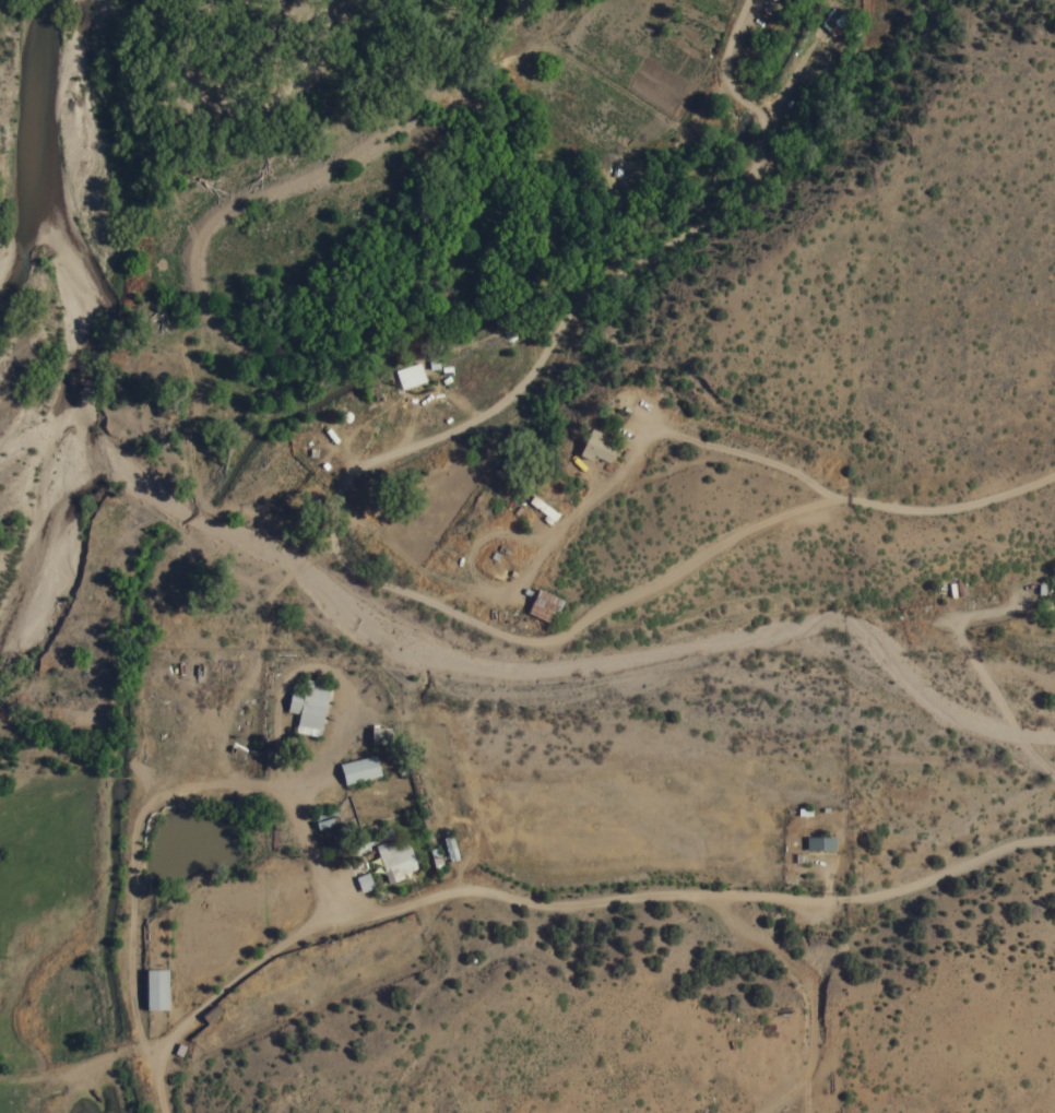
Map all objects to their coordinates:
building: (831, 22)
building: (407, 377)
building: (595, 447)
road: (837, 474)
building: (542, 606)
building: (307, 704)
building: (378, 737)
building: (357, 771)
building: (818, 845)
building: (394, 860)
building: (363, 883)
road: (686, 899)
building: (154, 990)

